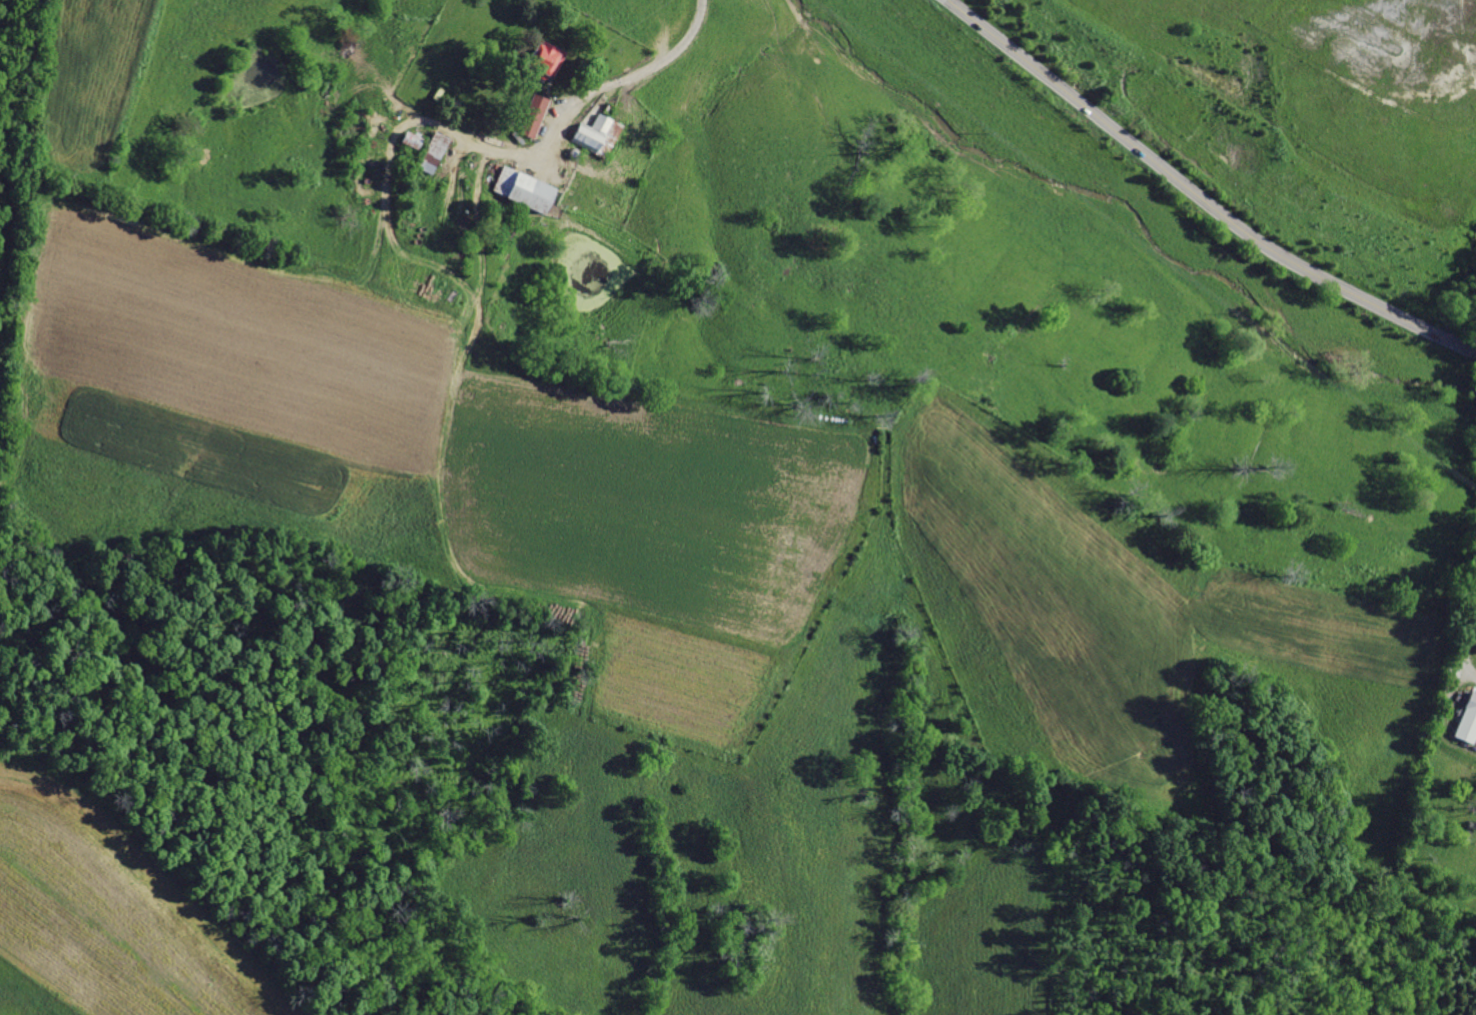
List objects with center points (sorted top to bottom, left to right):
building: (543, 60)
road: (592, 92)
building: (533, 115)
building: (596, 134)
building: (432, 152)
building: (522, 188)
road: (1201, 197)
road: (1461, 646)
building: (1467, 719)

